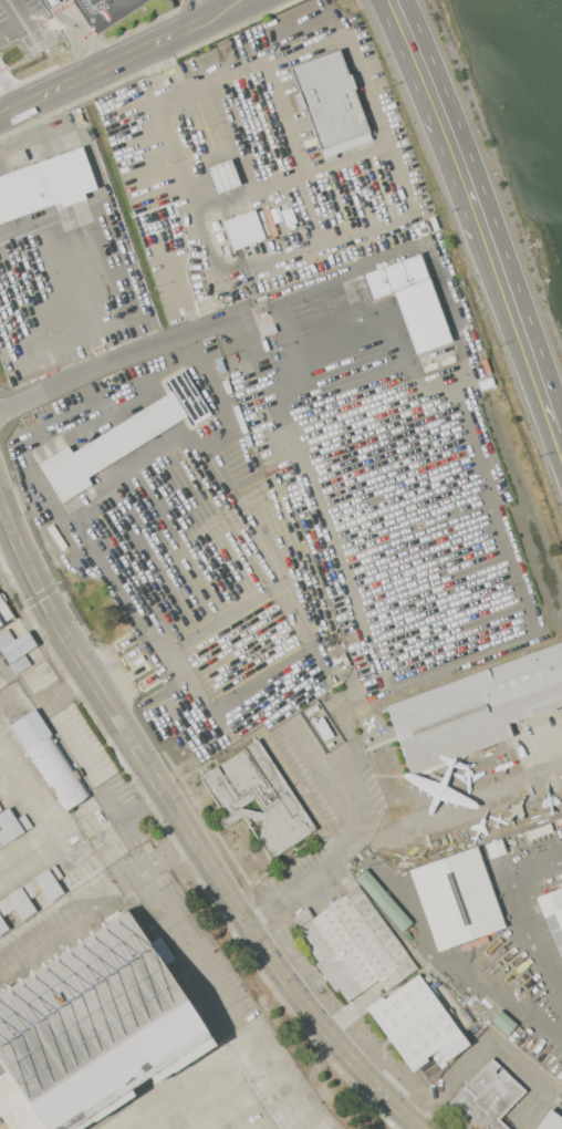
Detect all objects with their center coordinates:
road: (118, 3)
parking lot: (53, 6)
road: (205, 10)
road: (232, 10)
parking lot: (106, 11)
road: (20, 20)
road: (83, 31)
parking lot: (15, 48)
road: (104, 69)
road: (157, 73)
building: (329, 99)
road: (445, 115)
road: (230, 134)
road: (295, 148)
building: (221, 176)
road: (287, 177)
road: (398, 183)
building: (45, 184)
building: (242, 229)
road: (332, 281)
building: (410, 300)
road: (451, 310)
road: (226, 322)
road: (524, 333)
road: (241, 340)
road: (106, 367)
building: (487, 383)
road: (561, 434)
building: (123, 437)
road: (206, 437)
road: (318, 525)
road: (20, 546)
road: (521, 581)
airport: (260, 600)
building: (3, 613)
road: (192, 635)
building: (14, 650)
road: (126, 654)
road: (451, 677)
building: (475, 708)
building: (30, 729)
road: (347, 729)
road: (225, 731)
building: (56, 773)
road: (360, 781)
road: (321, 788)
building: (257, 797)
building: (0, 808)
road: (466, 809)
building: (11, 826)
airport hangar: (29, 862)
road: (217, 874)
road: (315, 880)
building: (46, 883)
building: (456, 898)
building: (382, 900)
building: (19, 903)
building: (551, 904)
road: (524, 915)
building: (2, 922)
building: (354, 945)
road: (443, 961)
airport apron: (111, 965)
building: (413, 1022)
building: (502, 1022)
building: (95, 1026)
building: (452, 1046)
building: (8, 1095)
building: (486, 1097)
building: (21, 1118)
building: (550, 1121)

